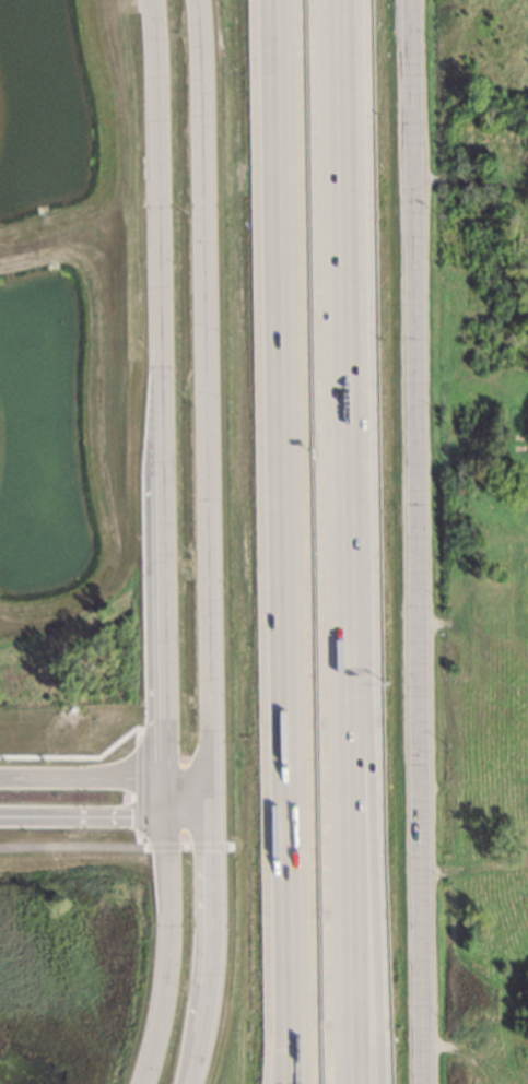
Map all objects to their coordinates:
road: (155, 192)
road: (203, 388)
road: (288, 512)
road: (359, 541)
road: (421, 542)
road: (163, 581)
road: (105, 778)
road: (105, 816)
road: (116, 847)
road: (212, 931)
road: (169, 932)
crop: (491, 1053)
road: (291, 1056)

